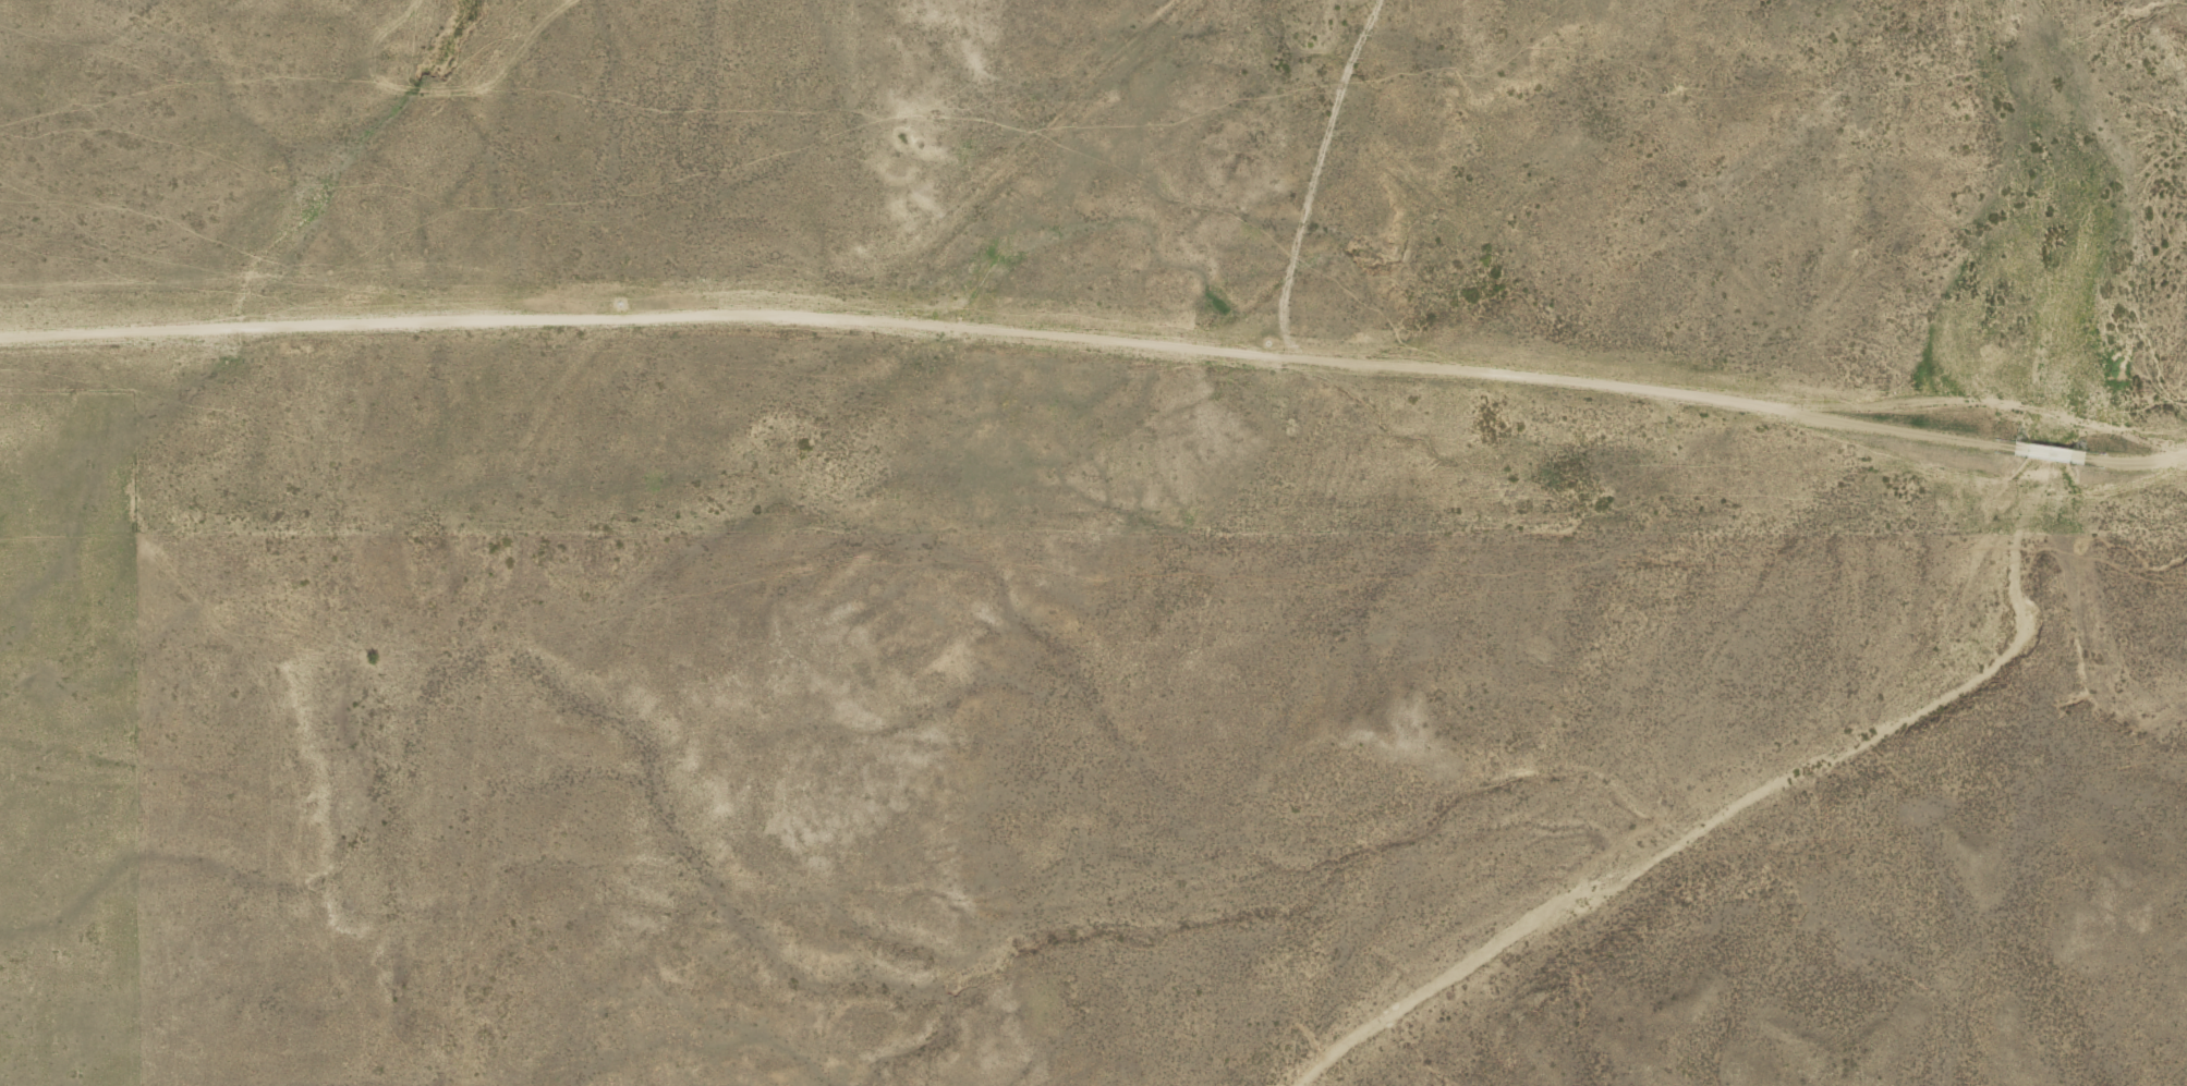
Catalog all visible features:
road: (1095, 357)

